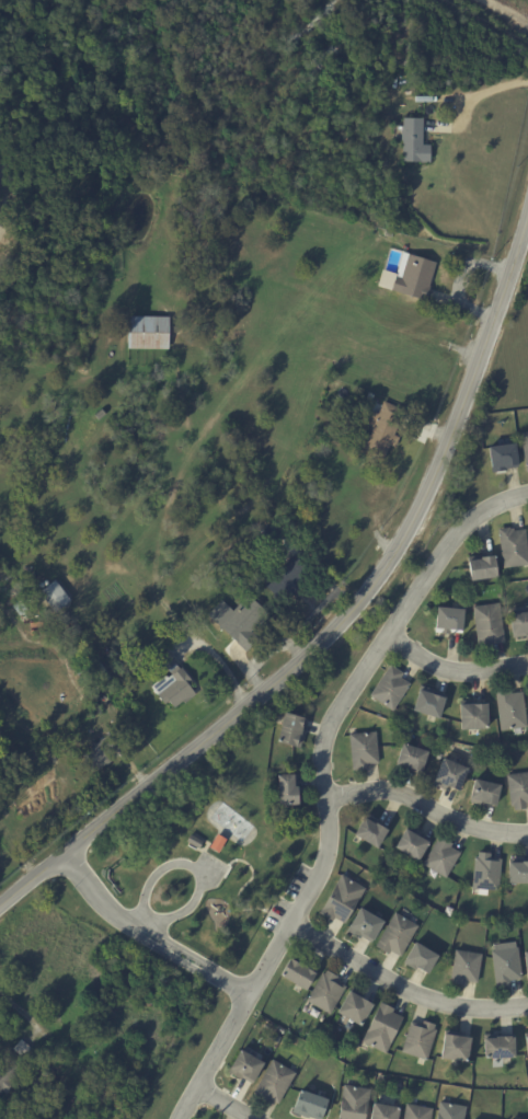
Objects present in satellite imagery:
building: (313, 22)
building: (338, 47)
road: (477, 94)
building: (413, 145)
building: (409, 279)
building: (147, 333)
building: (332, 382)
building: (370, 397)
building: (96, 413)
building: (382, 428)
building: (335, 443)
building: (525, 448)
building: (502, 457)
building: (271, 522)
building: (266, 533)
building: (513, 547)
building: (277, 554)
building: (482, 567)
building: (287, 580)
building: (54, 596)
road: (342, 618)
building: (62, 619)
building: (448, 619)
building: (245, 623)
building: (518, 623)
building: (487, 624)
building: (144, 665)
road: (452, 671)
building: (173, 683)
building: (389, 687)
building: (527, 695)
building: (428, 702)
building: (510, 710)
building: (472, 715)
building: (290, 729)
building: (76, 730)
building: (363, 749)
building: (101, 752)
building: (411, 758)
building: (449, 774)
road: (322, 784)
building: (287, 789)
building: (518, 792)
building: (484, 793)
road: (426, 805)
building: (370, 832)
building: (194, 841)
building: (412, 842)
building: (217, 843)
building: (441, 856)
road: (187, 865)
building: (517, 869)
building: (484, 872)
park: (236, 875)
road: (239, 886)
building: (342, 899)
road: (110, 910)
building: (364, 925)
road: (145, 927)
building: (395, 935)
building: (420, 958)
building: (526, 961)
building: (505, 966)
building: (464, 967)
road: (207, 972)
building: (297, 973)
road: (401, 988)
building: (325, 992)
building: (142, 994)
building: (354, 1006)
road: (21, 1012)
building: (382, 1028)
building: (418, 1039)
building: (526, 1042)
building: (455, 1046)
building: (497, 1046)
building: (10, 1066)
building: (243, 1066)
building: (45, 1074)
building: (274, 1082)
building: (38, 1083)
building: (104, 1087)
road: (225, 1103)
building: (353, 1103)
building: (309, 1106)
building: (450, 1111)
building: (383, 1112)
building: (416, 1112)

